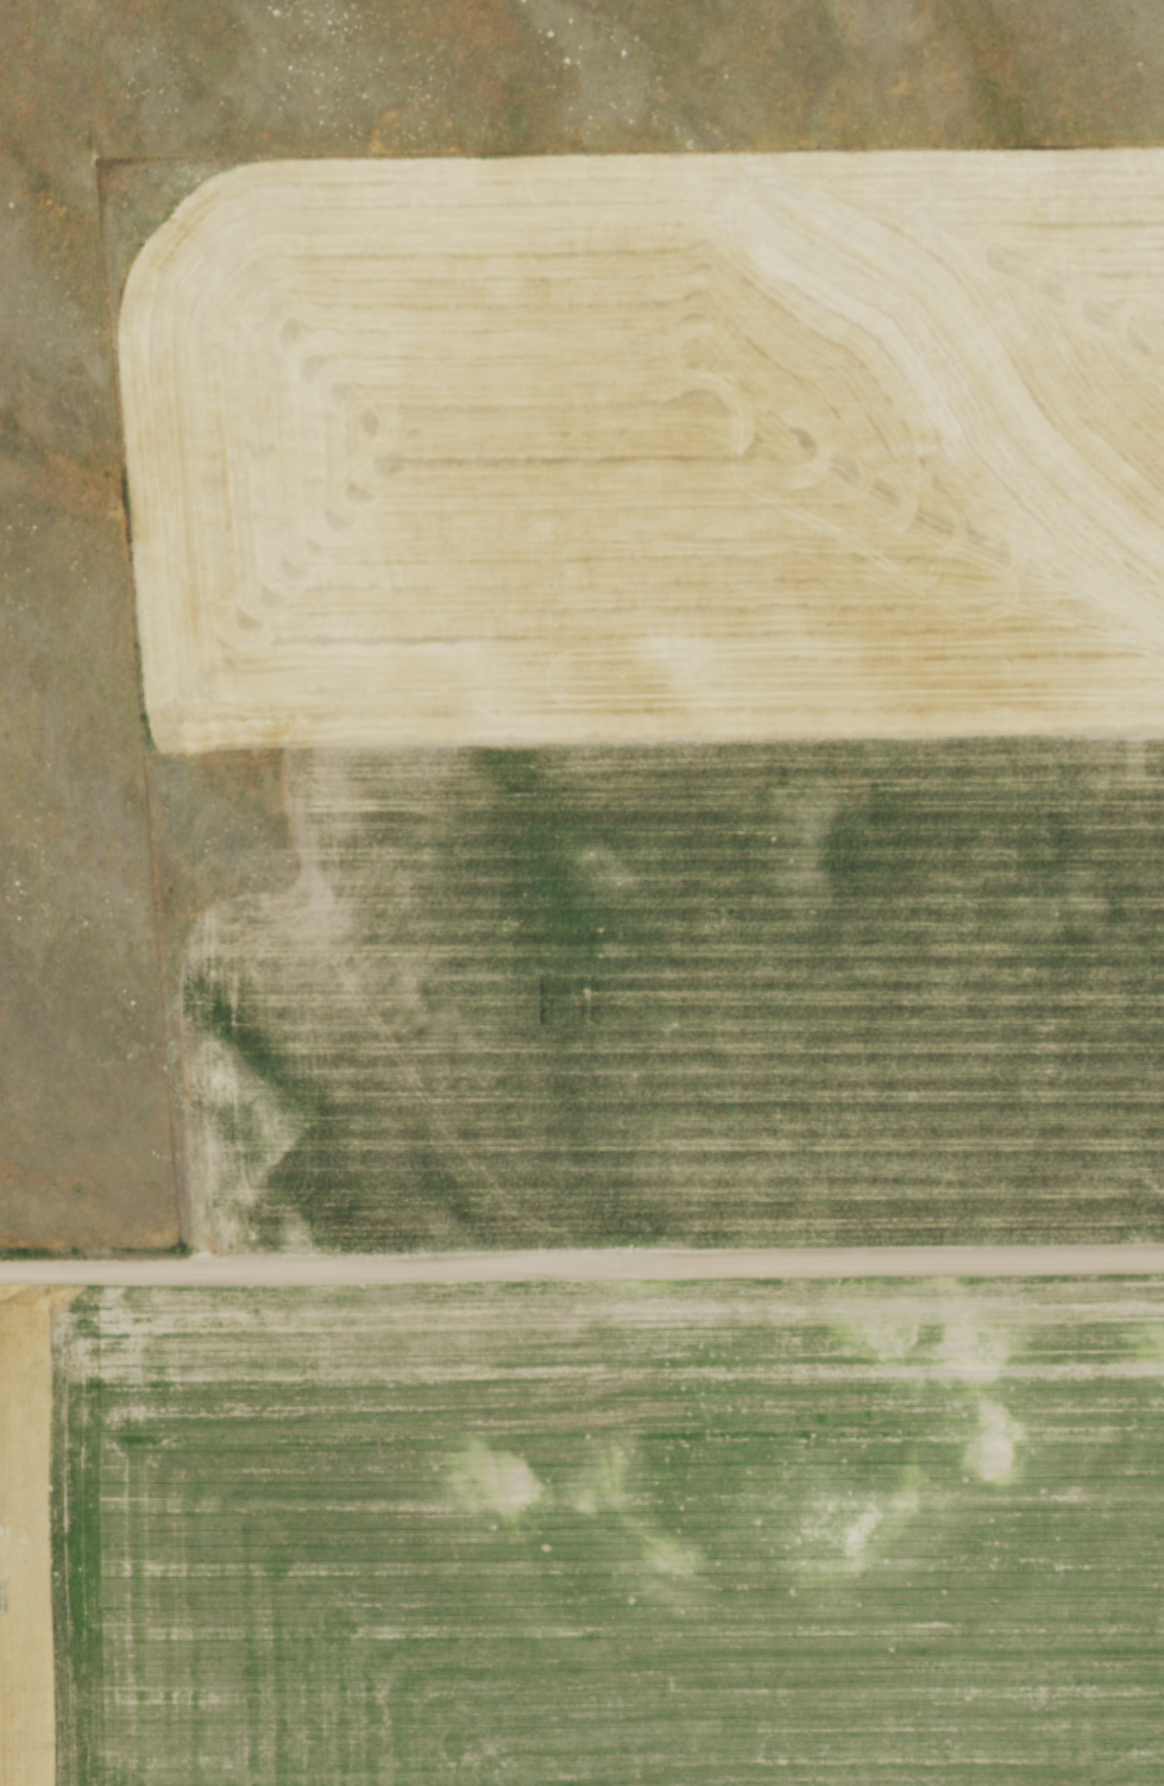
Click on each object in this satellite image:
crop: (682, 685)
road: (581, 1262)
crop: (583, 1530)

